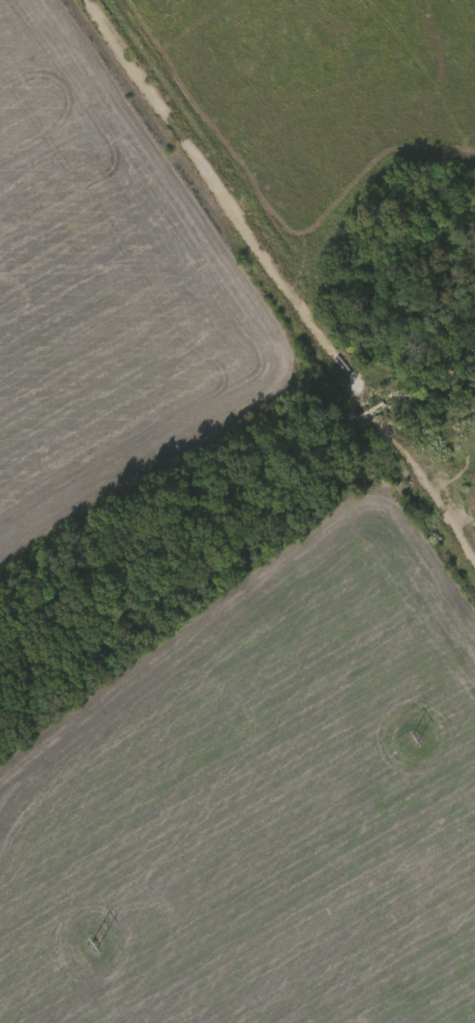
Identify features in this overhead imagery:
road: (281, 281)
power tower: (415, 737)
power tower: (93, 944)

